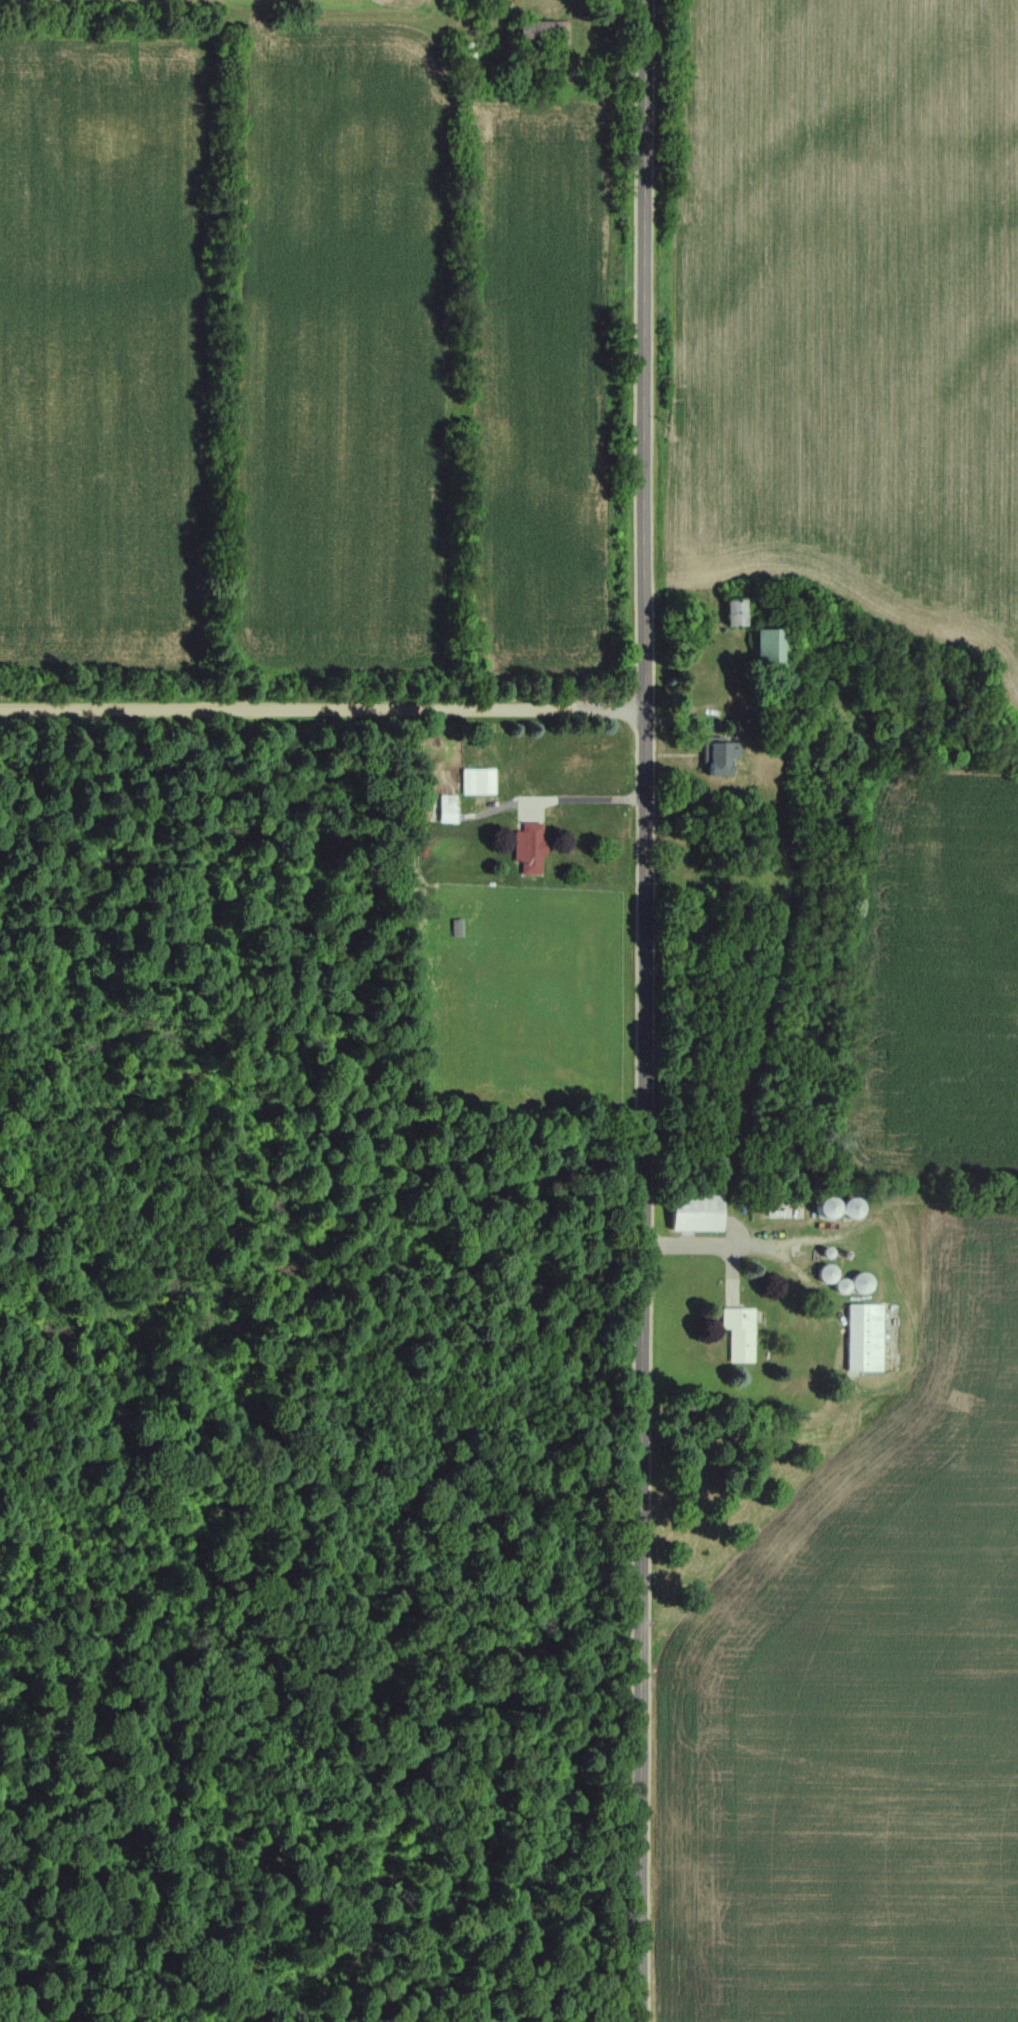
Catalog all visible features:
building: (534, 31)
building: (727, 612)
building: (758, 650)
road: (322, 711)
building: (713, 758)
building: (475, 782)
building: (527, 849)
road: (644, 1010)
building: (828, 1207)
building: (852, 1207)
building: (697, 1212)
building: (862, 1282)
building: (740, 1335)
building: (865, 1337)

